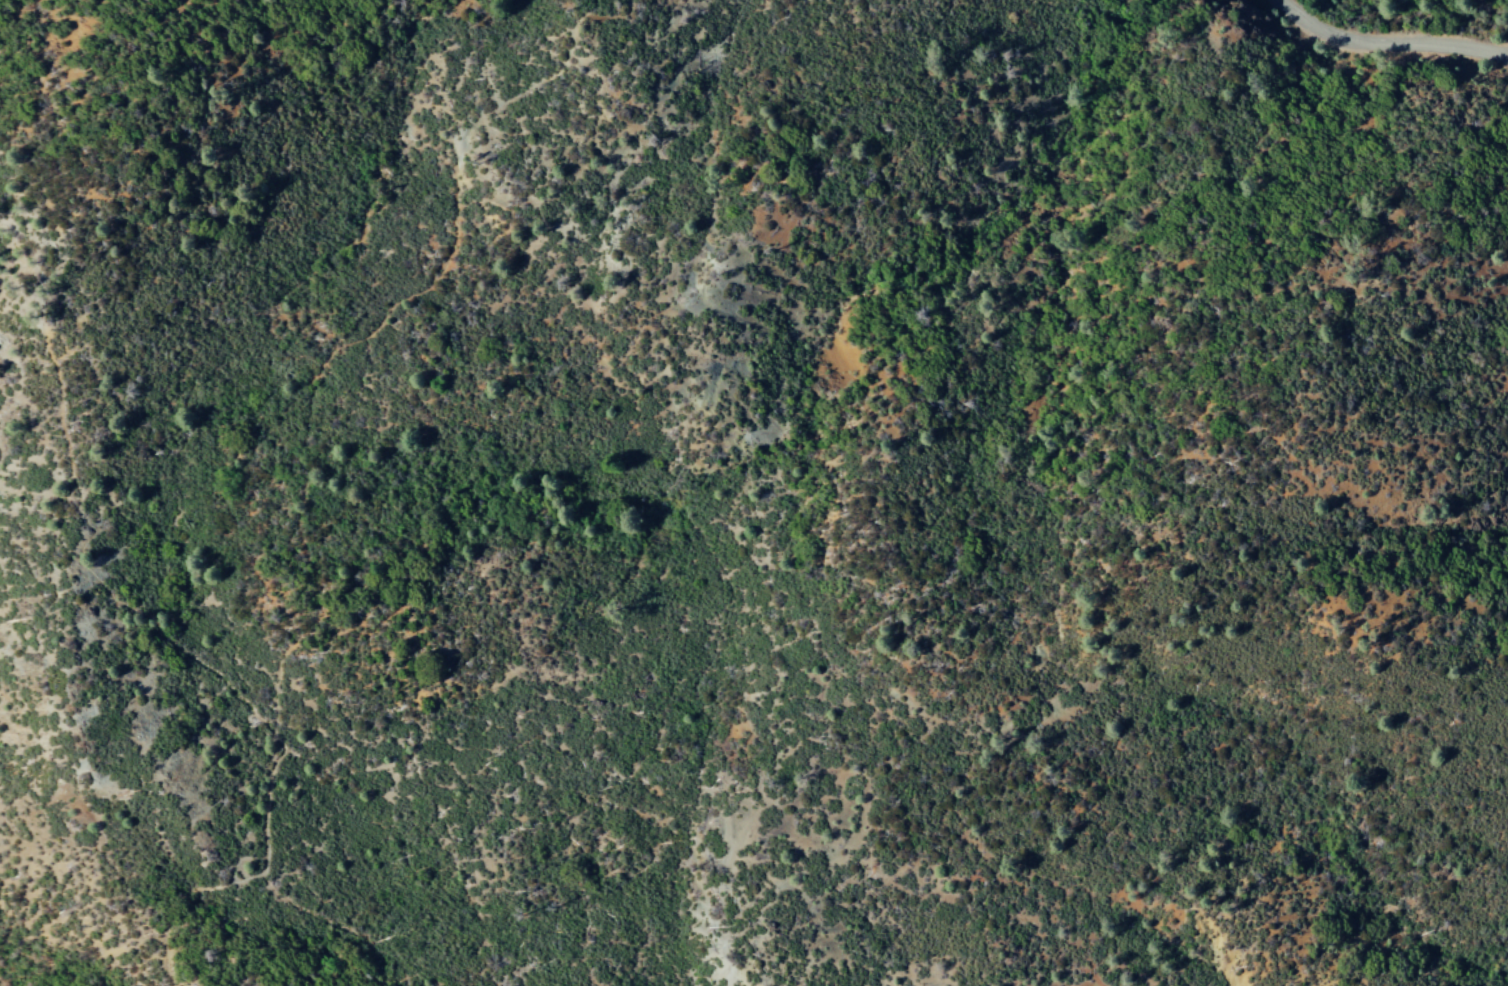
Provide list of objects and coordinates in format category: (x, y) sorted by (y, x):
road: (1386, 48)

